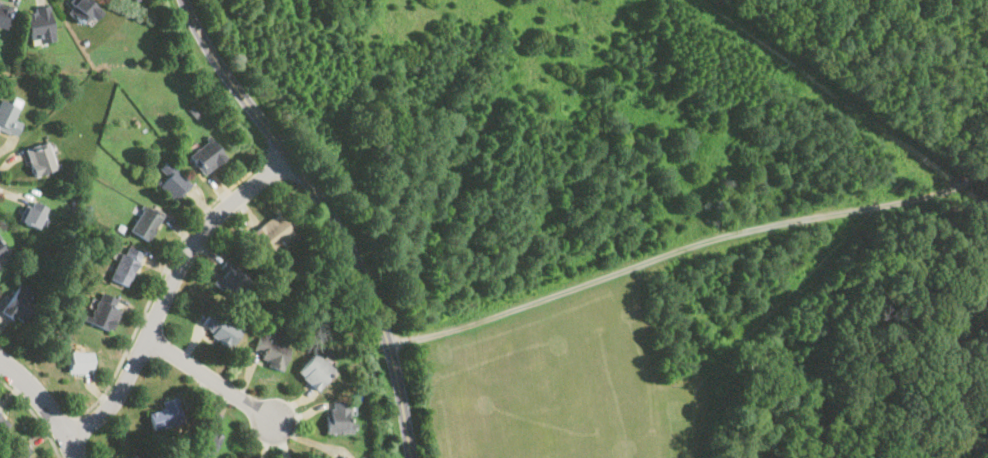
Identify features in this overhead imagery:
building: (81, 10)
building: (3, 14)
building: (37, 24)
building: (8, 120)
building: (204, 156)
building: (38, 159)
building: (171, 181)
road: (330, 213)
building: (30, 214)
building: (144, 222)
building: (270, 232)
road: (688, 246)
building: (2, 248)
building: (124, 265)
road: (158, 279)
building: (228, 280)
road: (169, 288)
building: (18, 302)
building: (102, 311)
building: (217, 326)
building: (270, 352)
building: (77, 361)
building: (313, 370)
road: (215, 380)
road: (45, 401)
building: (164, 414)
road: (34, 415)
building: (337, 416)
building: (1, 423)
road: (60, 423)
building: (202, 440)
building: (15, 452)
building: (135, 456)
building: (341, 457)

